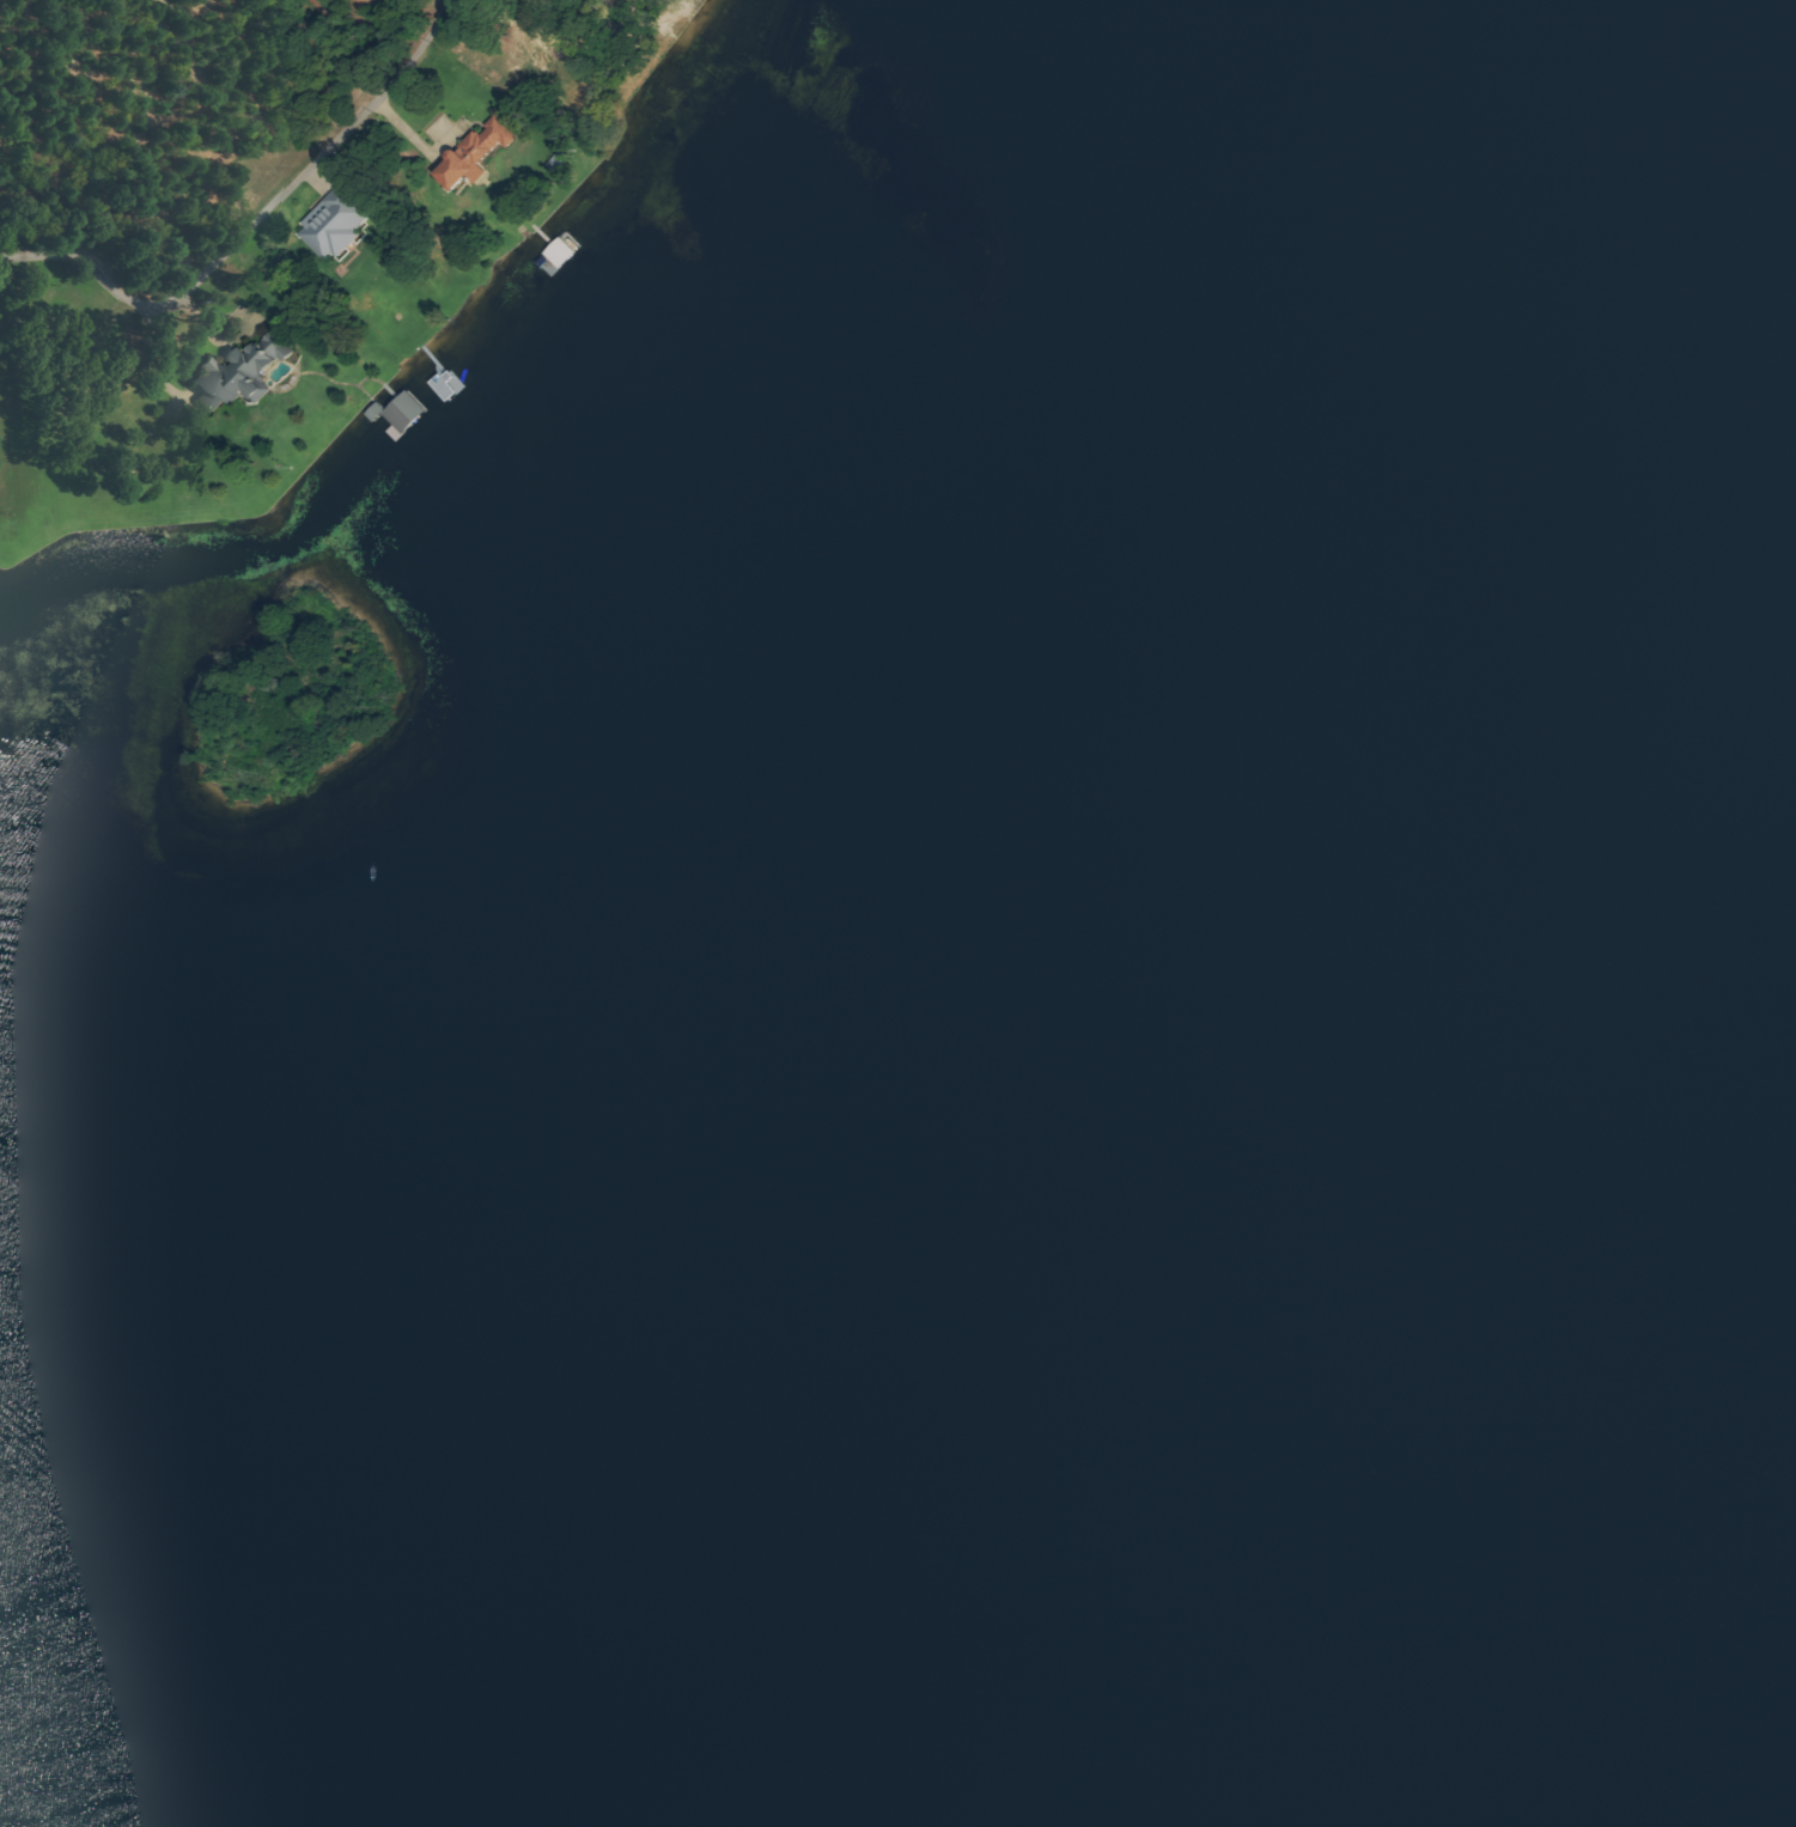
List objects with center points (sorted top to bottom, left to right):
building: (477, 153)
building: (337, 221)
road: (251, 226)
building: (556, 256)
building: (245, 371)

